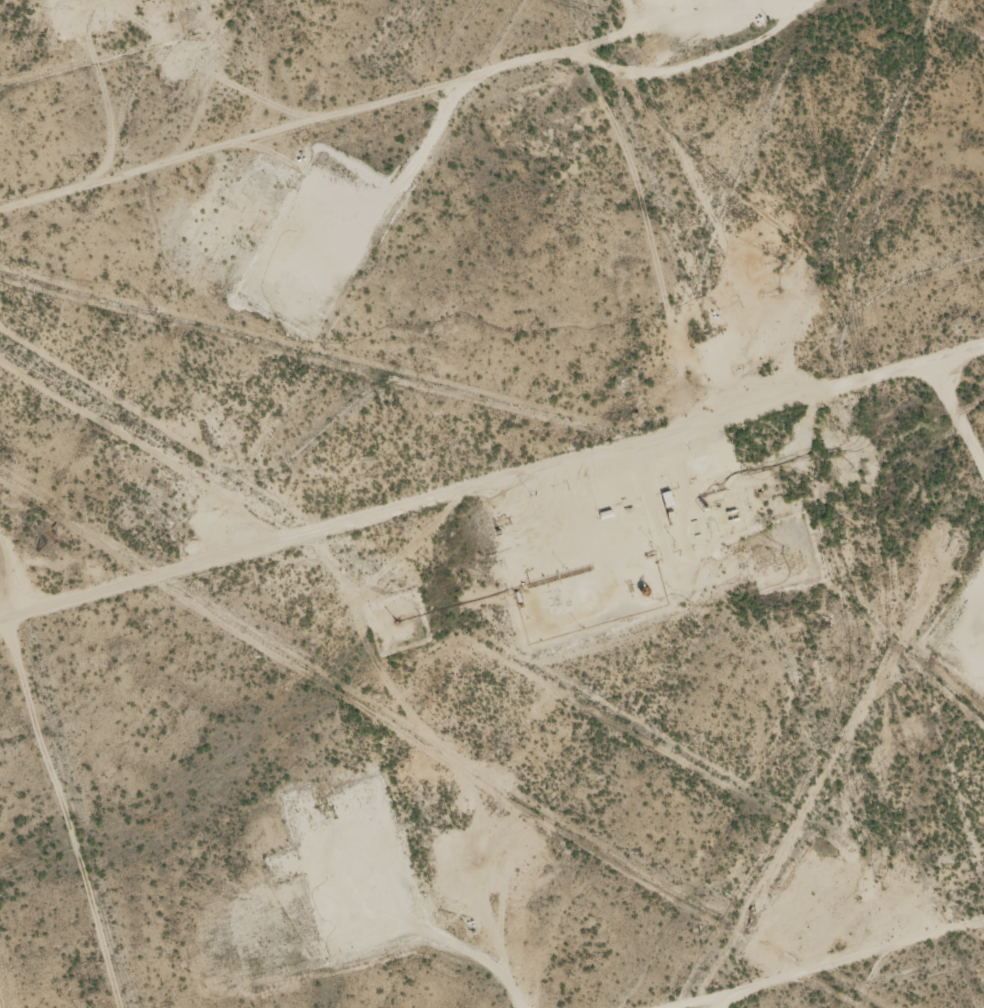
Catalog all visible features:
road: (492, 469)

